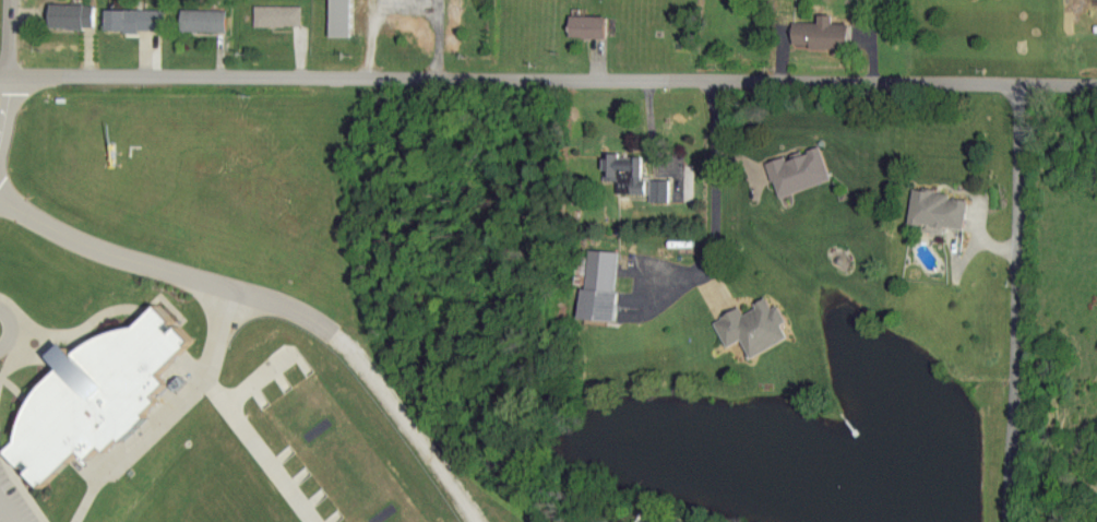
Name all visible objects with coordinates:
building: (279, 19)
building: (70, 20)
building: (338, 20)
building: (201, 23)
building: (134, 24)
building: (586, 29)
building: (821, 36)
road: (11, 38)
road: (548, 74)
road: (4, 104)
building: (797, 173)
road: (717, 198)
building: (934, 212)
road: (165, 272)
building: (596, 286)
road: (1016, 302)
road: (93, 322)
road: (26, 324)
road: (11, 331)
building: (751, 332)
road: (21, 344)
building: (95, 396)
road: (19, 489)
road: (91, 491)
parking lot: (11, 503)
road: (7, 511)

